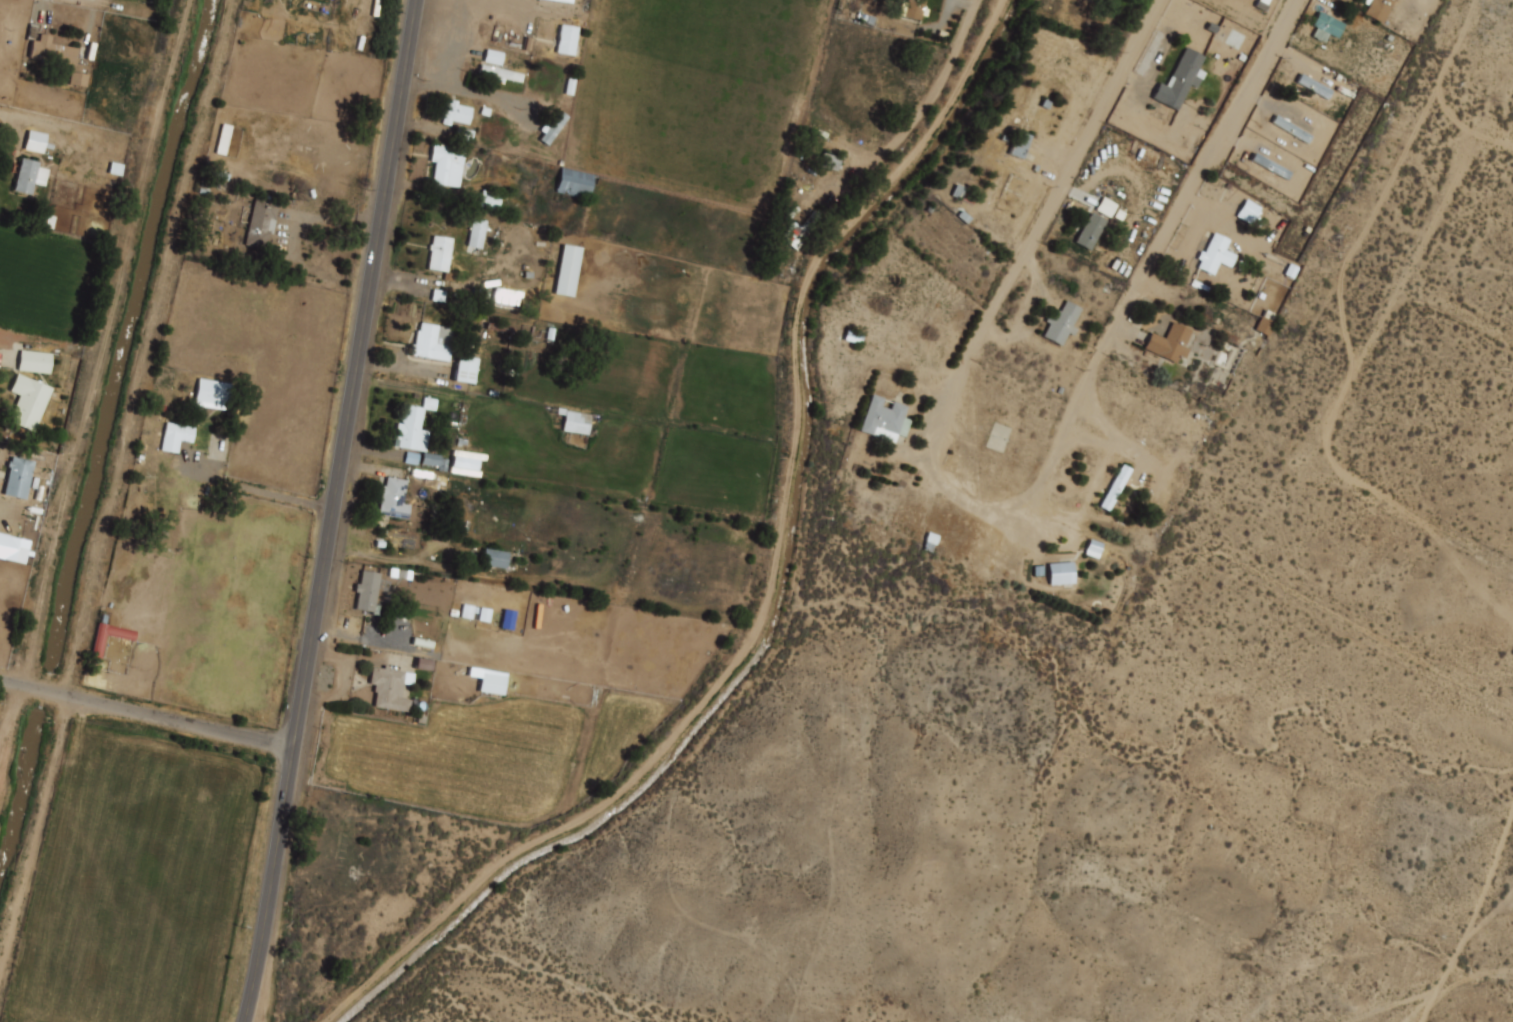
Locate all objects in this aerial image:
building: (913, 9)
building: (1378, 9)
building: (1327, 27)
building: (567, 40)
building: (51, 51)
building: (492, 56)
building: (501, 75)
building: (77, 78)
building: (1182, 80)
road: (923, 106)
building: (455, 114)
road: (35, 122)
building: (555, 128)
building: (223, 139)
building: (34, 141)
building: (1019, 144)
building: (830, 161)
building: (447, 164)
building: (28, 177)
building: (572, 182)
building: (488, 199)
building: (1247, 210)
building: (261, 222)
building: (801, 231)
building: (476, 232)
building: (1091, 232)
road: (1157, 247)
building: (439, 253)
building: (1214, 254)
building: (566, 269)
building: (1290, 270)
road: (1011, 278)
building: (504, 297)
building: (1062, 323)
building: (1263, 325)
road: (3, 332)
building: (433, 343)
building: (1170, 343)
building: (34, 361)
building: (463, 368)
building: (212, 393)
building: (28, 400)
building: (886, 421)
building: (575, 422)
building: (413, 428)
building: (176, 435)
building: (18, 476)
building: (1116, 488)
road: (275, 494)
building: (394, 498)
road: (333, 511)
building: (929, 542)
building: (1092, 548)
building: (16, 549)
building: (495, 558)
building: (1062, 574)
building: (366, 591)
building: (98, 647)
building: (390, 686)
road: (147, 715)
road: (6, 723)

